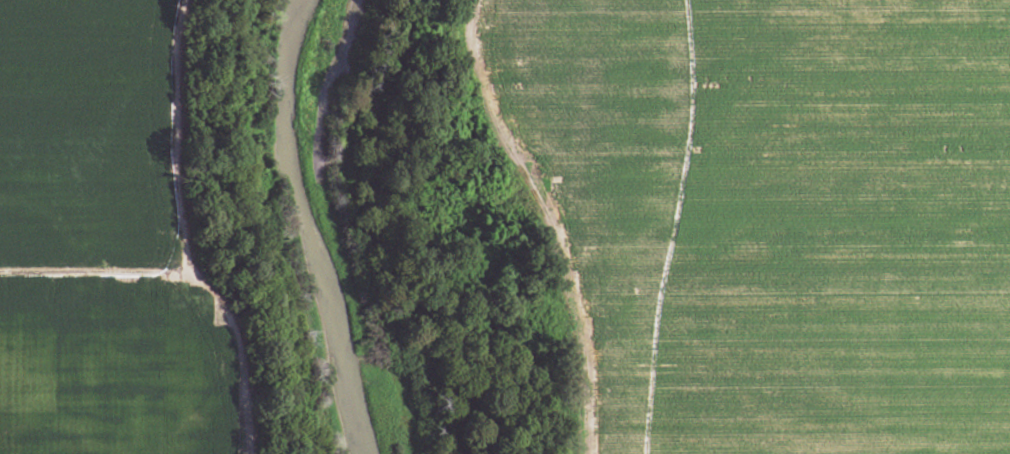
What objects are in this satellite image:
road: (548, 221)
river: (308, 228)
road: (80, 270)

